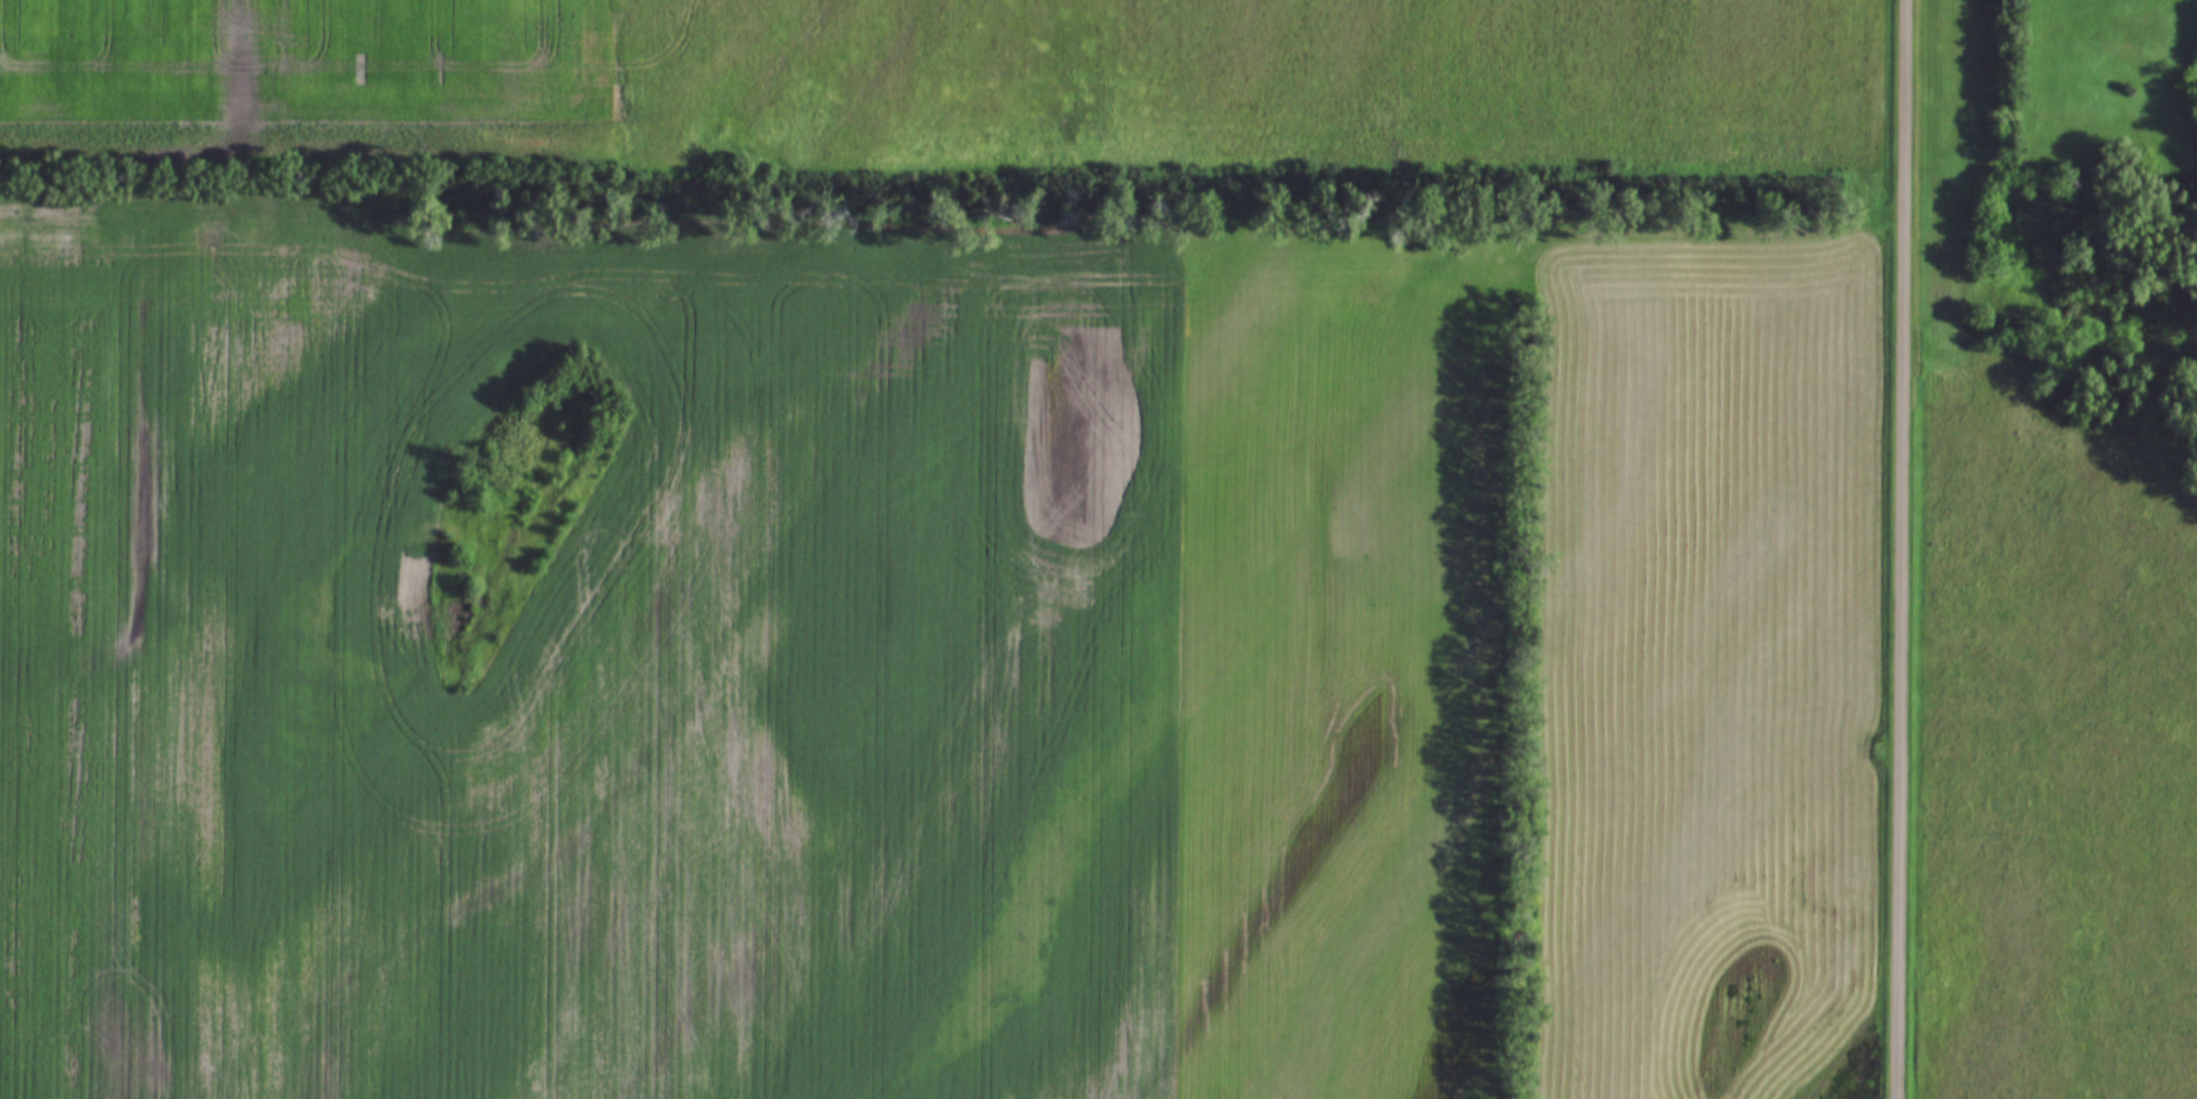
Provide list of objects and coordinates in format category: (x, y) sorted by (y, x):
road: (1907, 549)

